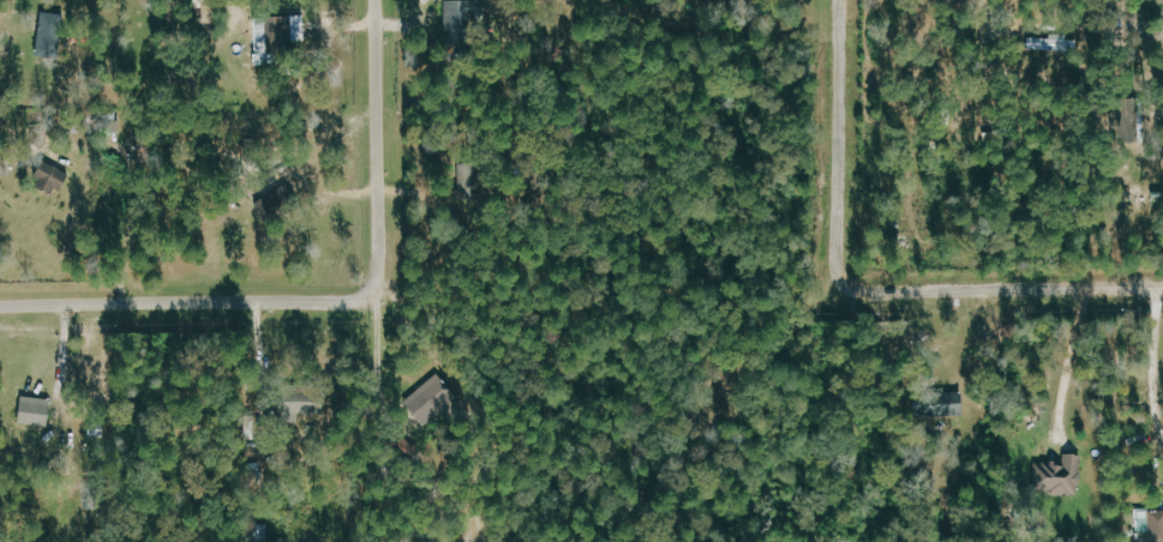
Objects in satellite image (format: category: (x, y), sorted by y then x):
building: (457, 17)
building: (301, 29)
building: (53, 35)
building: (263, 36)
building: (1057, 43)
building: (54, 179)
road: (861, 293)
road: (335, 306)
road: (1074, 356)
road: (1156, 362)
building: (432, 391)
building: (941, 405)
building: (38, 412)
building: (1061, 476)
building: (1151, 525)

